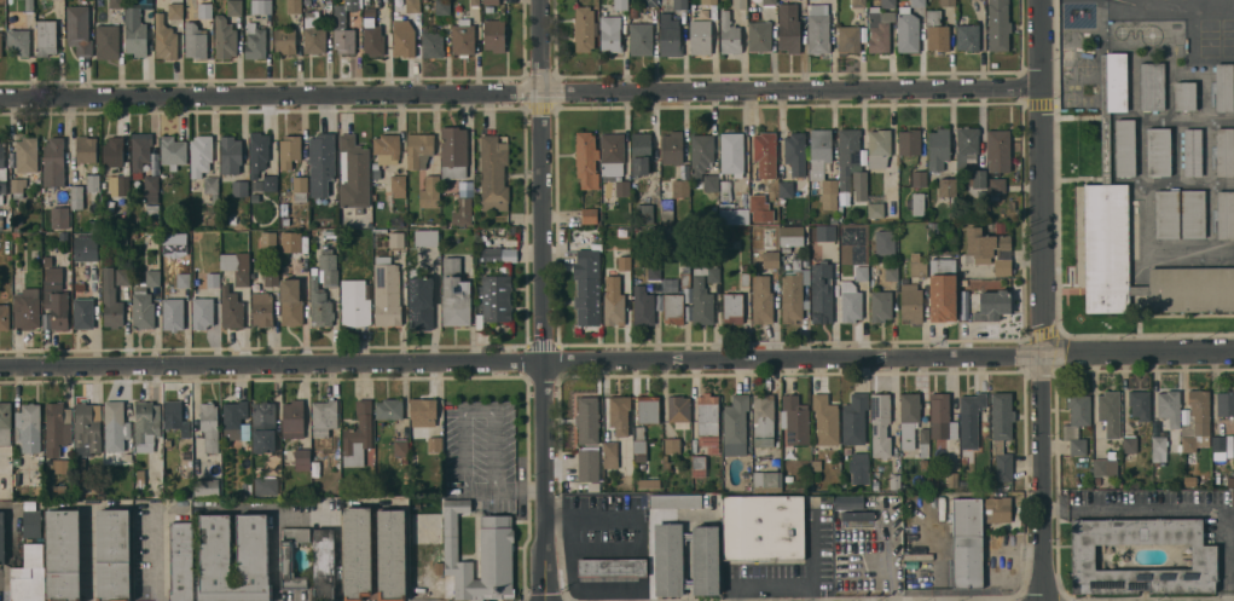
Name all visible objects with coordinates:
building: (424, 0)
building: (491, 1)
building: (708, 1)
building: (475, 2)
building: (650, 2)
building: (769, 2)
building: (919, 2)
building: (948, 2)
building: (116, 4)
building: (738, 4)
building: (858, 4)
building: (888, 4)
building: (620, 5)
building: (680, 5)
building: (29, 6)
building: (261, 6)
building: (294, 6)
building: (412, 6)
building: (234, 7)
building: (442, 7)
building: (175, 10)
building: (204, 10)
building: (635, 12)
building: (998, 25)
building: (344, 27)
building: (789, 28)
building: (79, 29)
building: (137, 29)
building: (584, 29)
building: (818, 29)
building: (880, 29)
building: (908, 30)
building: (150, 31)
building: (937, 31)
building: (314, 34)
building: (372, 34)
building: (610, 34)
building: (729, 34)
building: (493, 35)
building: (670, 35)
building: (760, 35)
building: (46, 37)
building: (164, 37)
building: (225, 37)
building: (402, 37)
building: (700, 37)
building: (968, 37)
building: (463, 39)
building: (641, 39)
building: (850, 39)
building: (284, 40)
building: (18, 41)
building: (108, 41)
building: (195, 41)
building: (255, 42)
building: (433, 42)
building: (0, 45)
building: (1116, 81)
building: (1152, 86)
building: (1224, 87)
road: (523, 94)
building: (1184, 96)
building: (1105, 126)
building: (909, 141)
building: (387, 145)
building: (672, 148)
building: (879, 148)
building: (1124, 148)
building: (86, 149)
building: (938, 149)
building: (172, 150)
building: (290, 150)
building: (419, 150)
building: (998, 150)
building: (1158, 151)
building: (112, 152)
building: (140, 152)
building: (453, 152)
building: (1192, 152)
building: (1224, 152)
building: (27, 154)
building: (257, 154)
building: (641, 154)
building: (765, 154)
building: (795, 154)
building: (201, 155)
building: (230, 155)
building: (701, 155)
building: (731, 155)
building: (971, 156)
building: (586, 160)
building: (53, 162)
building: (614, 162)
building: (321, 163)
building: (847, 163)
building: (823, 166)
building: (2, 171)
building: (493, 173)
building: (355, 174)
building: (920, 179)
building: (93, 183)
building: (270, 183)
building: (711, 183)
building: (17, 184)
building: (118, 185)
building: (399, 185)
building: (997, 185)
building: (257, 186)
building: (212, 187)
building: (300, 187)
building: (859, 187)
building: (151, 189)
building: (239, 189)
building: (682, 189)
building: (787, 189)
building: (946, 189)
building: (430, 192)
building: (18, 196)
building: (76, 197)
building: (254, 197)
building: (993, 197)
building: (464, 203)
building: (758, 203)
building: (919, 203)
building: (875, 206)
building: (151, 210)
building: (667, 212)
building: (1193, 213)
building: (644, 214)
building: (1166, 214)
building: (1224, 214)
building: (589, 215)
building: (60, 216)
building: (735, 216)
building: (19, 219)
building: (834, 220)
building: (1, 223)
building: (122, 224)
building: (1000, 227)
building: (825, 232)
building: (330, 233)
building: (134, 235)
building: (255, 235)
building: (63, 236)
building: (425, 237)
building: (790, 238)
building: (122, 239)
building: (268, 239)
building: (396, 239)
building: (290, 242)
building: (772, 243)
building: (150, 244)
building: (86, 248)
building: (1106, 248)
building: (987, 250)
building: (488, 255)
building: (509, 255)
building: (771, 260)
building: (47, 261)
building: (344, 261)
building: (624, 264)
building: (236, 266)
building: (942, 266)
building: (917, 267)
building: (328, 268)
building: (654, 271)
building: (862, 273)
building: (891, 273)
building: (123, 276)
building: (685, 276)
building: (745, 276)
building: (271, 277)
building: (213, 279)
building: (183, 281)
building: (963, 282)
building: (670, 285)
building: (80, 287)
building: (587, 287)
building: (1139, 289)
building: (1192, 289)
building: (31, 293)
building: (387, 293)
building: (822, 293)
building: (703, 294)
building: (454, 295)
building: (794, 295)
building: (56, 297)
building: (494, 297)
building: (943, 297)
road: (545, 300)
building: (761, 300)
road: (1044, 300)
building: (111, 301)
building: (614, 301)
building: (144, 302)
building: (291, 302)
building: (319, 302)
building: (354, 302)
building: (851, 302)
building: (911, 302)
building: (421, 304)
building: (643, 306)
building: (881, 306)
building: (963, 306)
building: (993, 306)
building: (231, 308)
building: (262, 308)
building: (674, 308)
building: (732, 308)
building: (25, 311)
building: (83, 313)
building: (173, 313)
building: (203, 313)
building: (5, 317)
road: (616, 362)
building: (1226, 403)
building: (1140, 404)
building: (1170, 408)
building: (389, 409)
building: (648, 410)
building: (679, 411)
building: (423, 412)
road: (463, 412)
building: (1110, 412)
building: (620, 414)
building: (707, 415)
building: (175, 417)
building: (324, 417)
building: (942, 417)
building: (292, 418)
building: (909, 418)
building: (971, 418)
building: (236, 420)
building: (587, 420)
building: (763, 420)
building: (795, 420)
building: (825, 420)
building: (854, 420)
building: (1077, 421)
building: (116, 422)
building: (1197, 422)
building: (57, 423)
building: (5, 424)
building: (880, 424)
building: (28, 426)
building: (146, 426)
building: (209, 426)
building: (263, 426)
building: (735, 426)
building: (87, 427)
building: (1002, 434)
building: (358, 435)
building: (639, 440)
building: (923, 441)
building: (167, 443)
building: (435, 444)
building: (709, 444)
building: (1219, 444)
building: (1129, 445)
building: (672, 446)
building: (1159, 449)
building: (401, 450)
building: (186, 455)
building: (610, 455)
building: (302, 460)
building: (413, 460)
building: (700, 462)
building: (666, 463)
building: (923, 463)
building: (58, 464)
building: (589, 464)
building: (816, 464)
building: (1105, 466)
building: (859, 468)
building: (630, 479)
building: (952, 479)
building: (746, 481)
building: (765, 481)
building: (894, 481)
building: (1190, 481)
building: (140, 482)
building: (649, 482)
building: (934, 482)
building: (1230, 482)
building: (266, 486)
building: (205, 487)
building: (567, 487)
building: (56, 489)
building: (94, 490)
road: (521, 491)
building: (1233, 498)
building: (417, 501)
building: (676, 501)
building: (997, 509)
road: (1180, 510)
building: (857, 515)
building: (31, 522)
building: (425, 527)
building: (763, 527)
building: (1, 538)
building: (967, 542)
building: (251, 545)
building: (497, 547)
building: (358, 553)
road: (87, 554)
building: (112, 554)
building: (63, 555)
road: (157, 555)
building: (392, 555)
building: (291, 557)
building: (1204, 557)
road: (887, 559)
building: (668, 560)
building: (706, 560)
building: (181, 561)
road: (811, 564)
building: (324, 565)
building: (612, 567)
building: (439, 568)
building: (29, 576)

